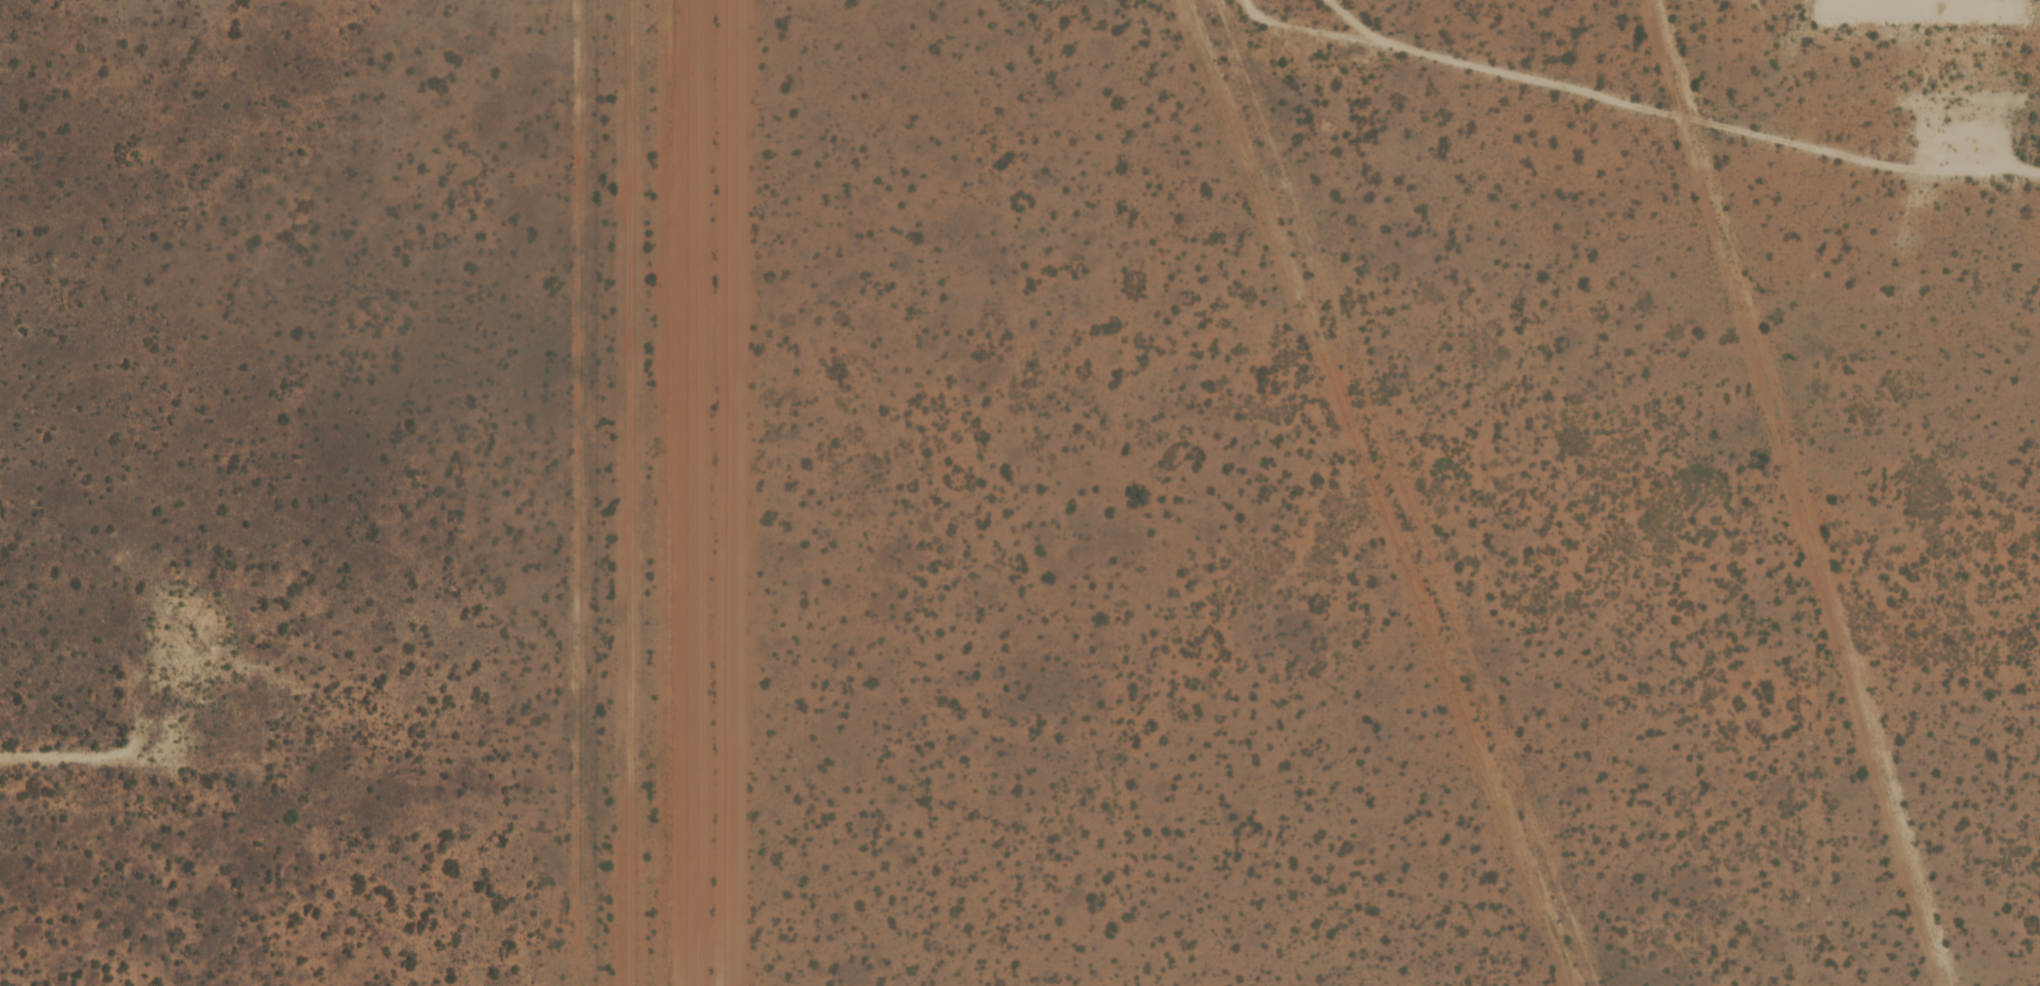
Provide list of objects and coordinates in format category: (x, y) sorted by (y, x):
road: (1634, 101)
road: (1995, 177)
road: (81, 754)

